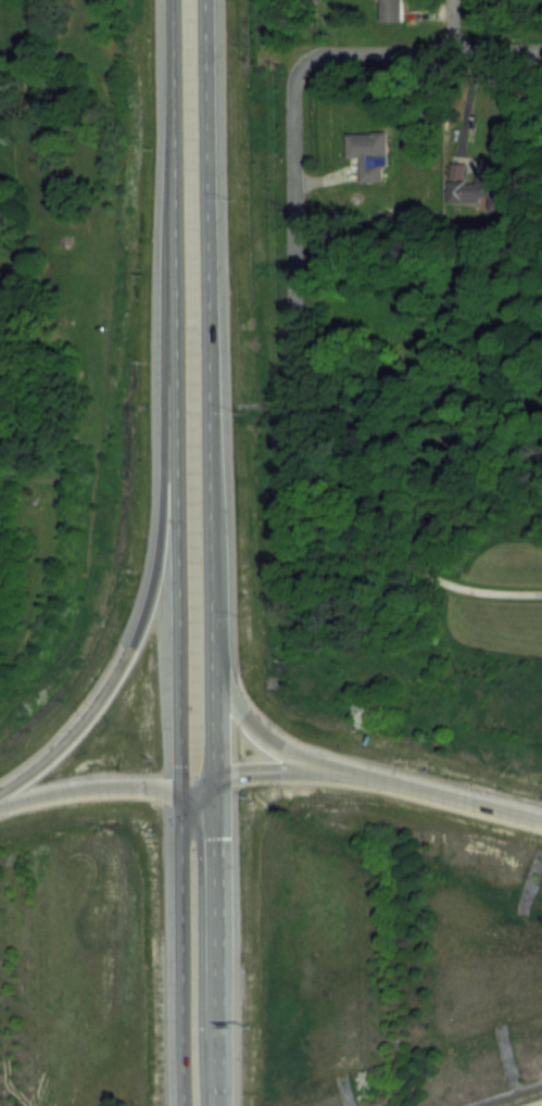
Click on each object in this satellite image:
building: (392, 10)
road: (450, 25)
road: (463, 105)
road: (293, 137)
building: (369, 153)
building: (483, 190)
road: (178, 553)
road: (211, 553)
road: (395, 558)
road: (142, 614)
road: (266, 738)
traffic signals: (213, 781)
road: (184, 794)
traffic signals: (182, 795)
road: (454, 796)

